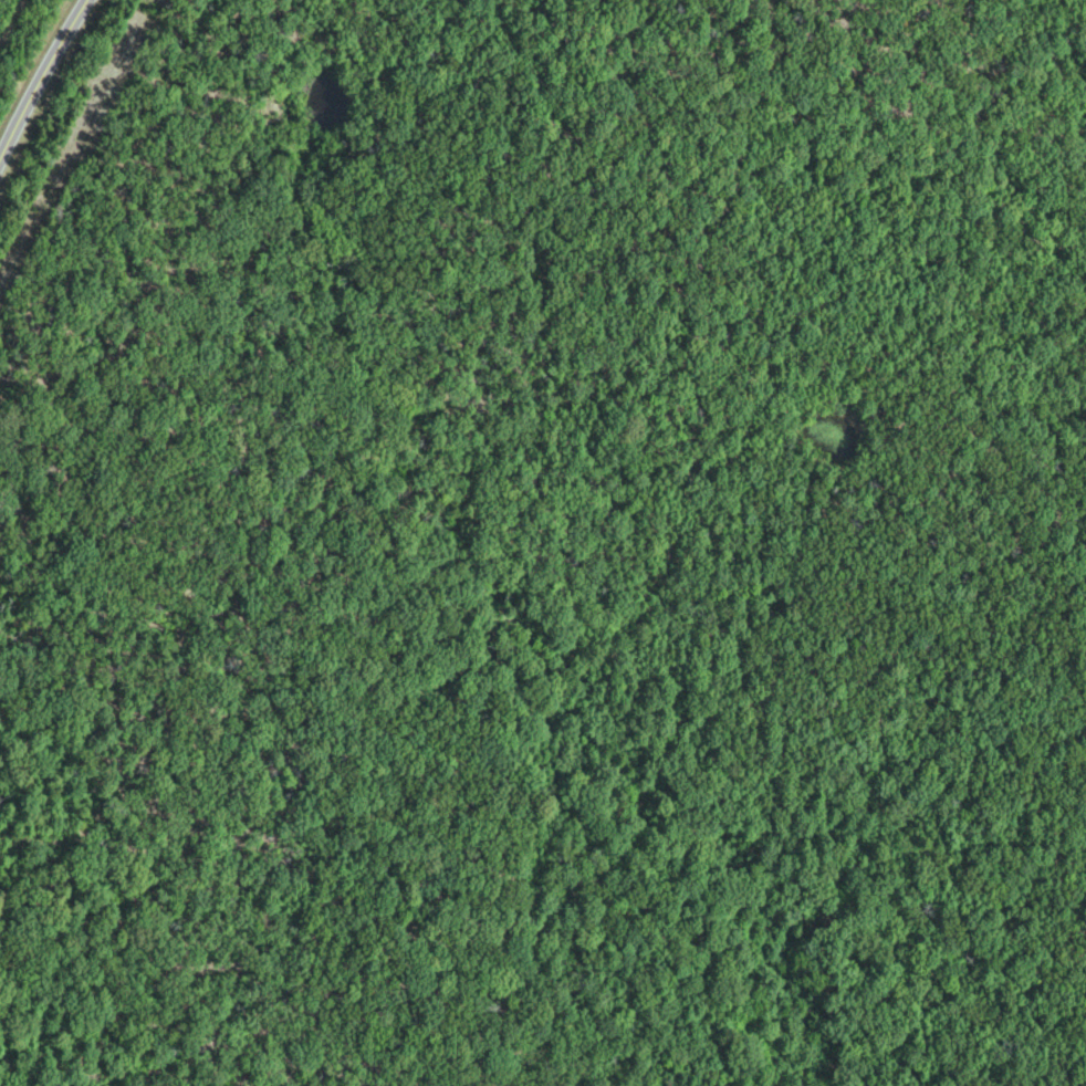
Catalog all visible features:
road: (23, 31)
road: (49, 82)

